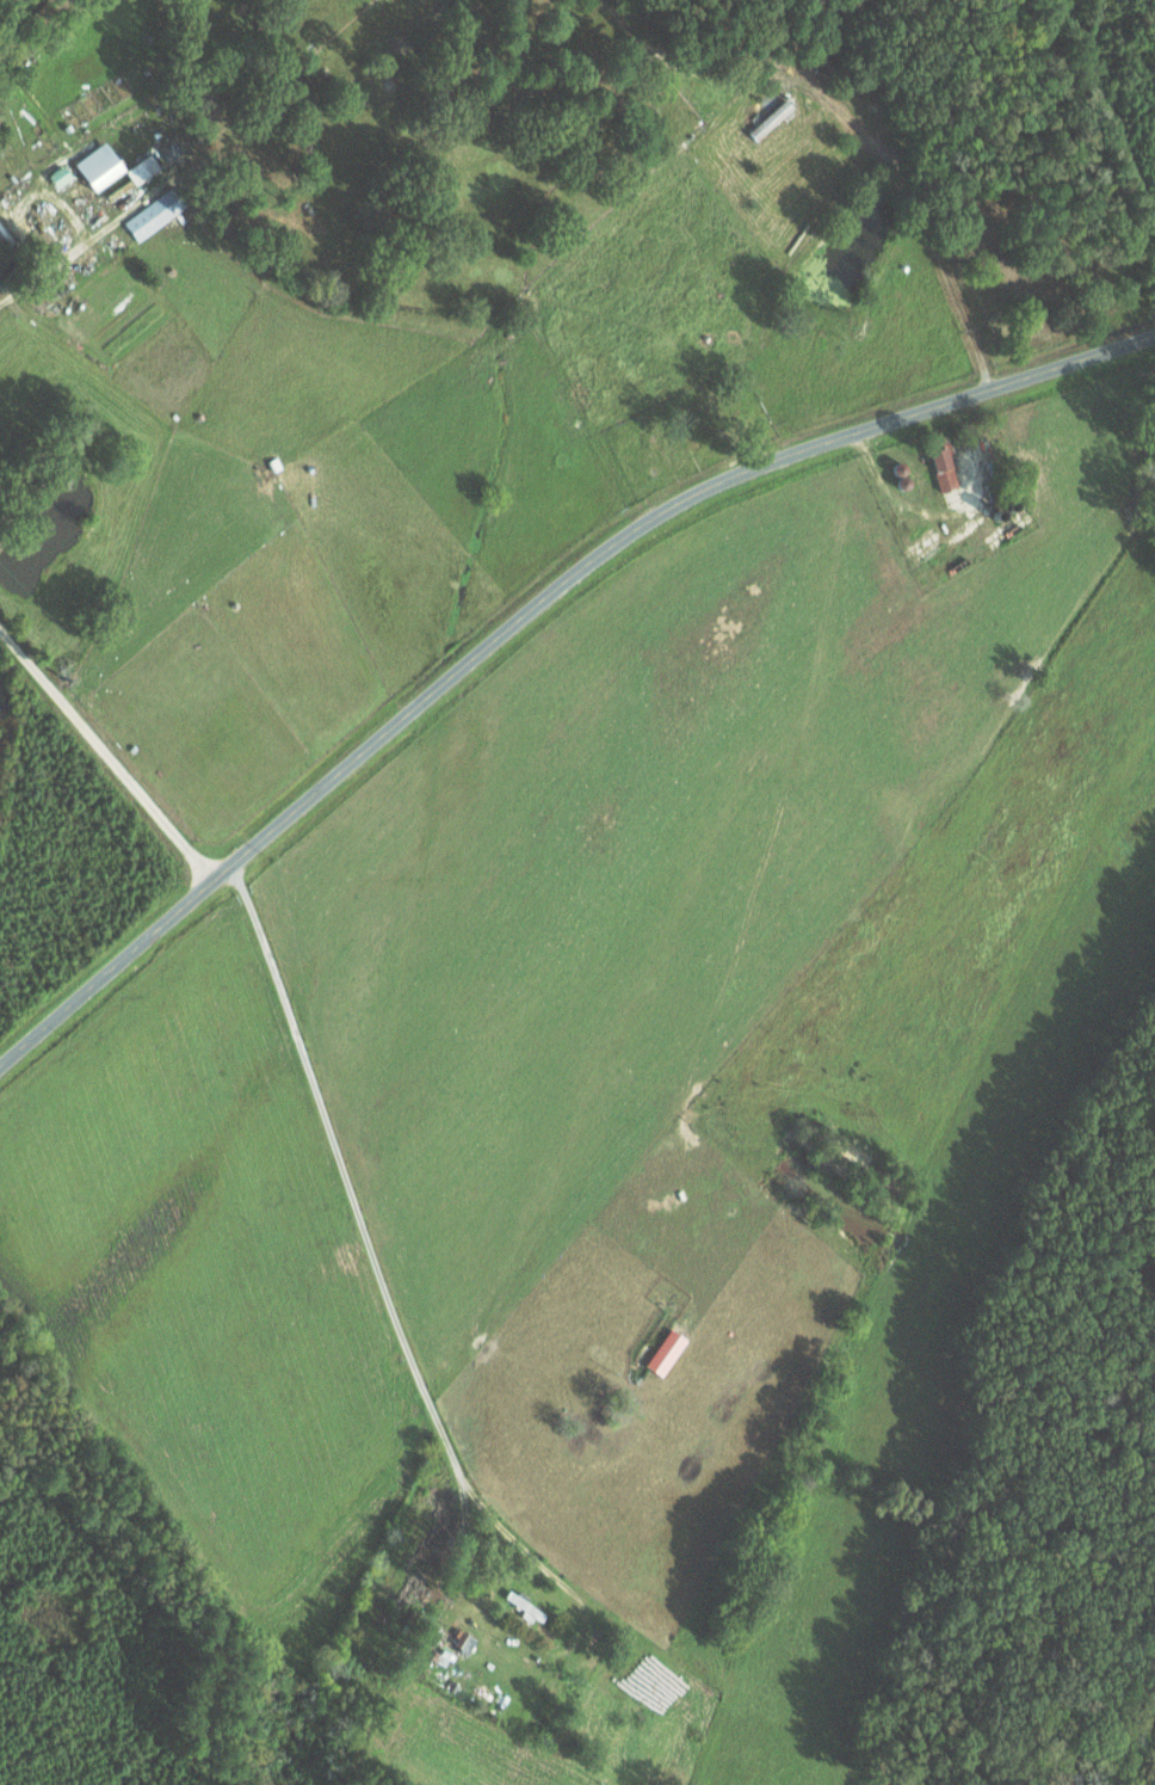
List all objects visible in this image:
building: (101, 166)
building: (146, 168)
building: (62, 176)
building: (156, 214)
building: (6, 238)
building: (946, 470)
road: (525, 615)
road: (107, 755)
building: (668, 1352)
building: (467, 1642)

